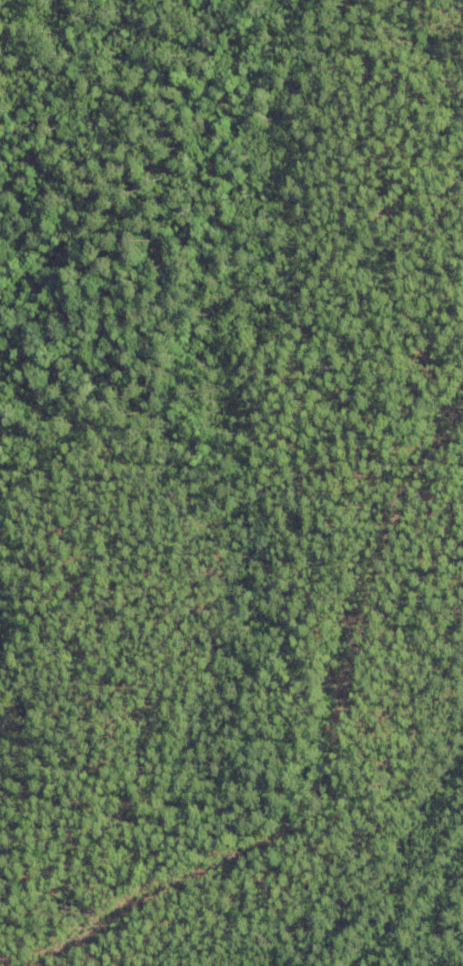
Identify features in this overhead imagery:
road: (313, 722)

